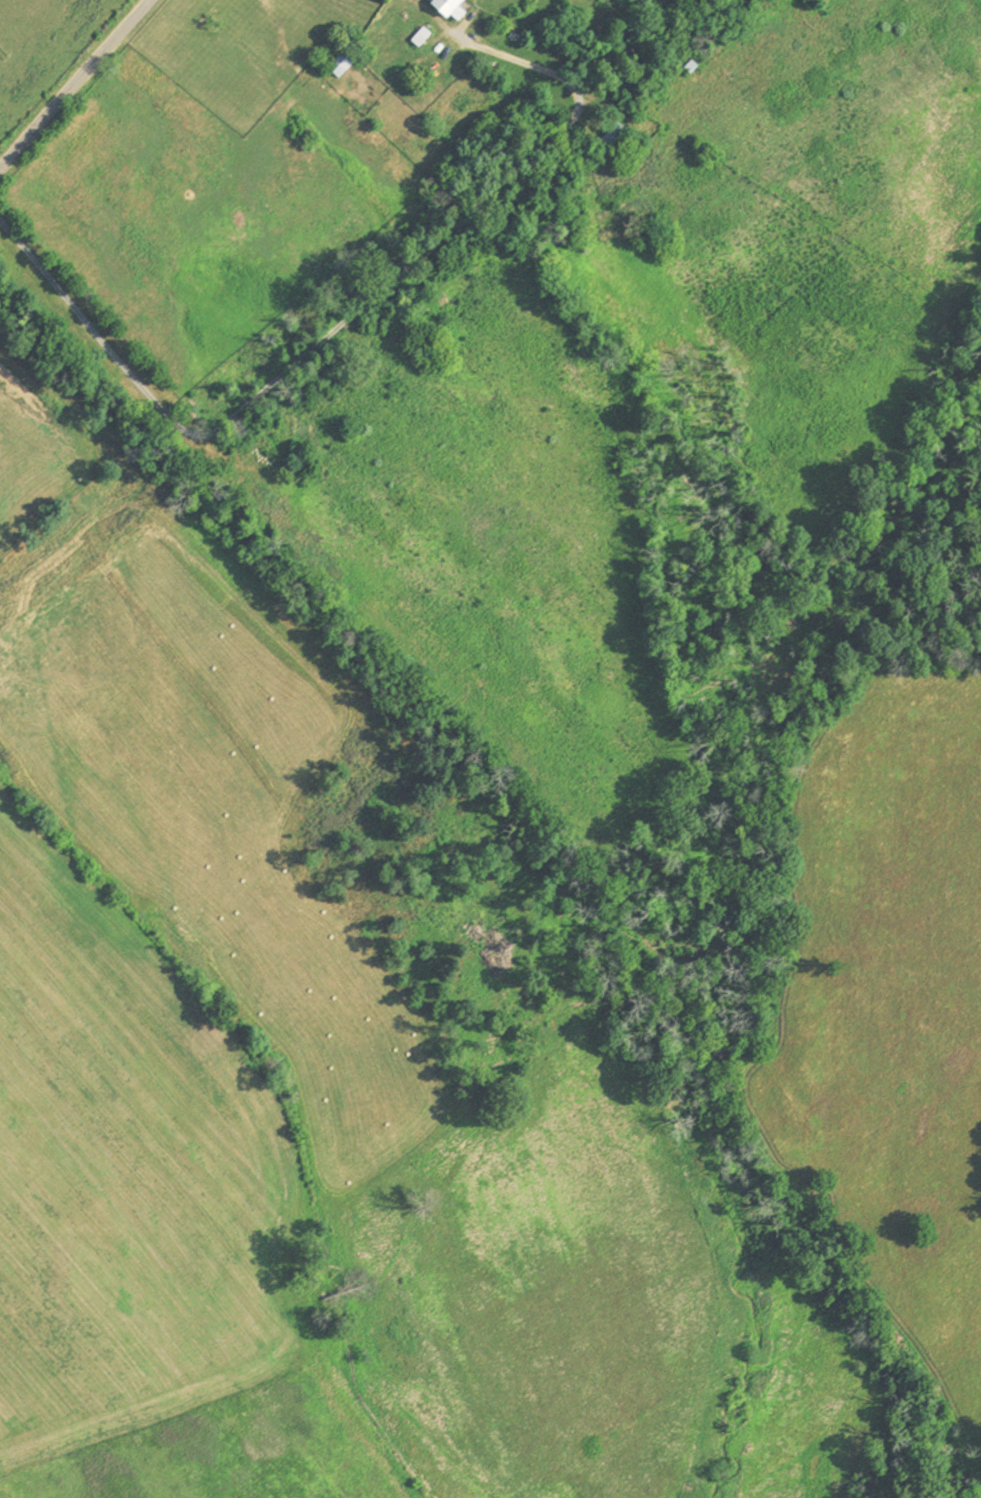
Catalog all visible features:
building: (442, 8)
building: (415, 38)
building: (335, 64)
road: (73, 83)
building: (607, 141)
road: (335, 327)

